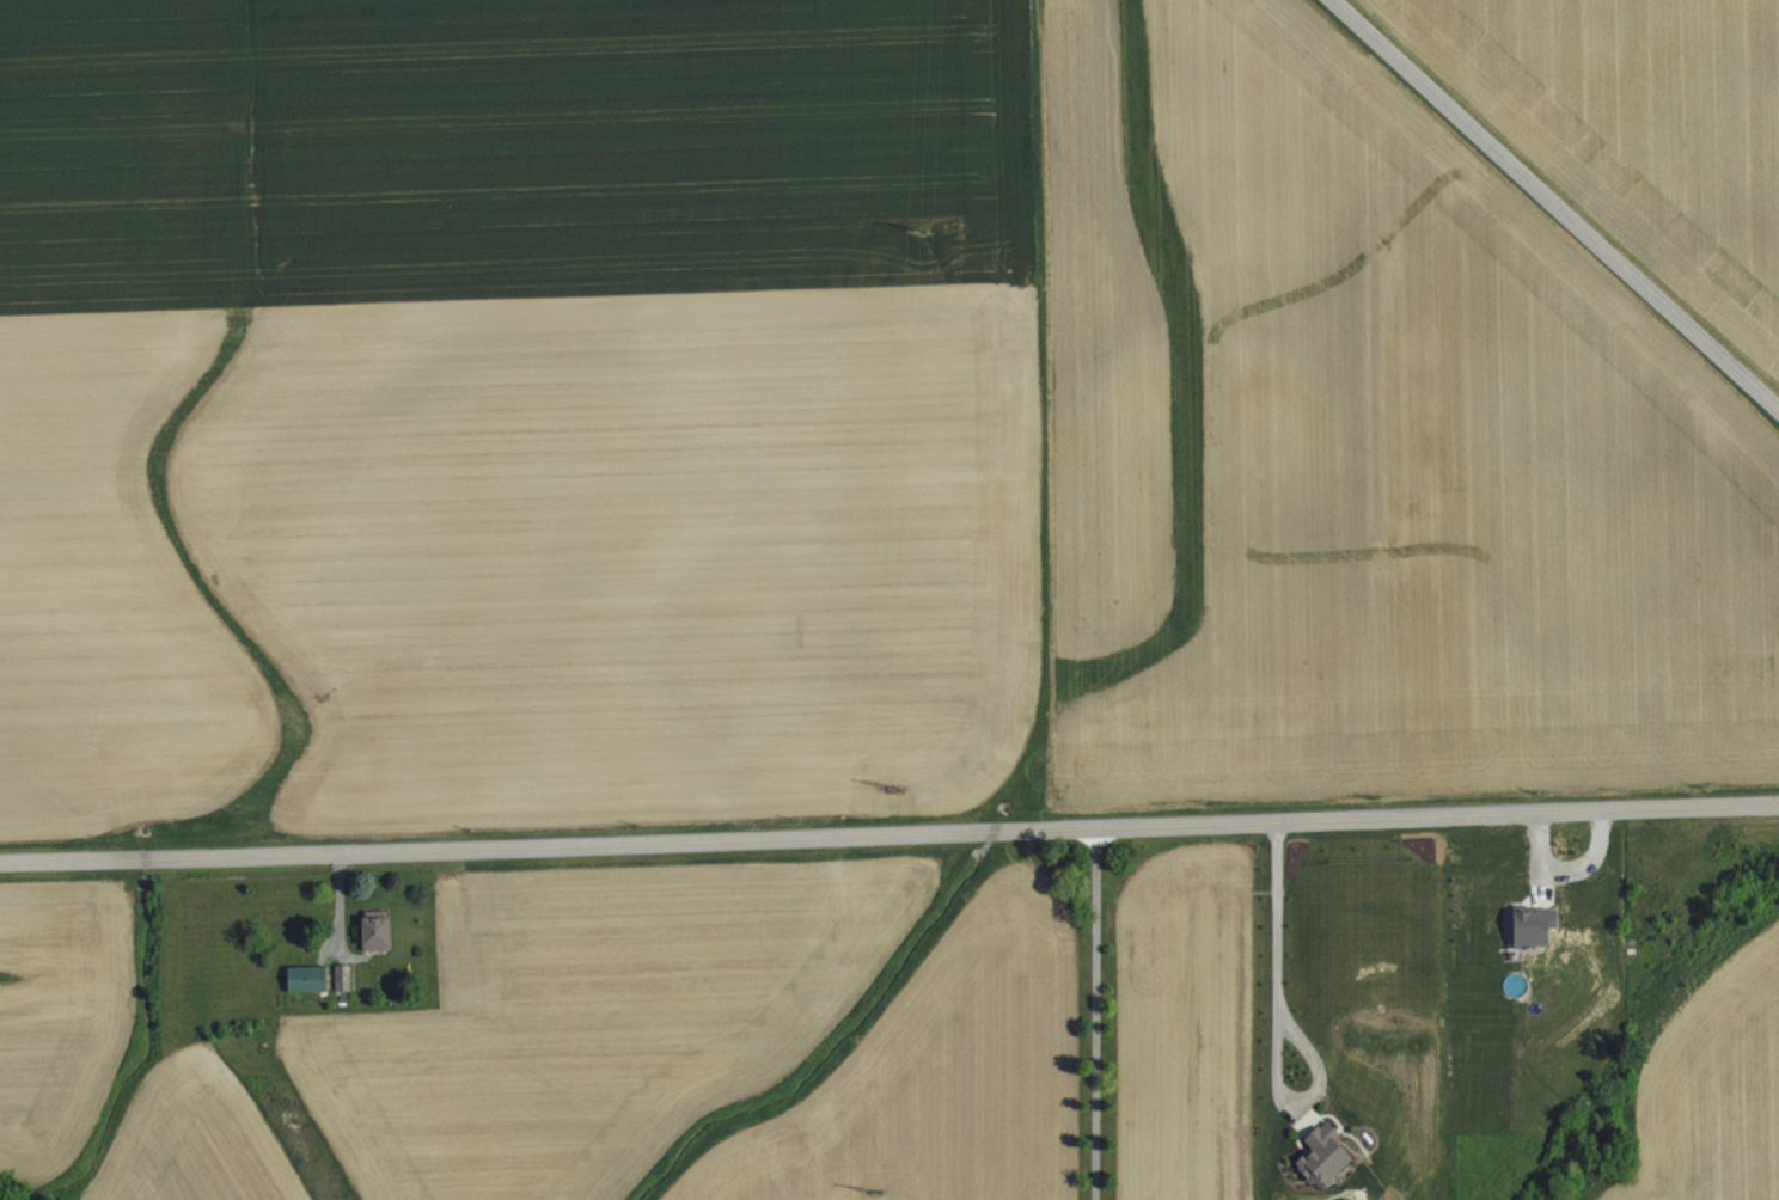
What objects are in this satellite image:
road: (1557, 206)
road: (889, 837)
building: (375, 948)
building: (342, 991)
building: (307, 993)
road: (1098, 1014)
road: (1278, 1024)

